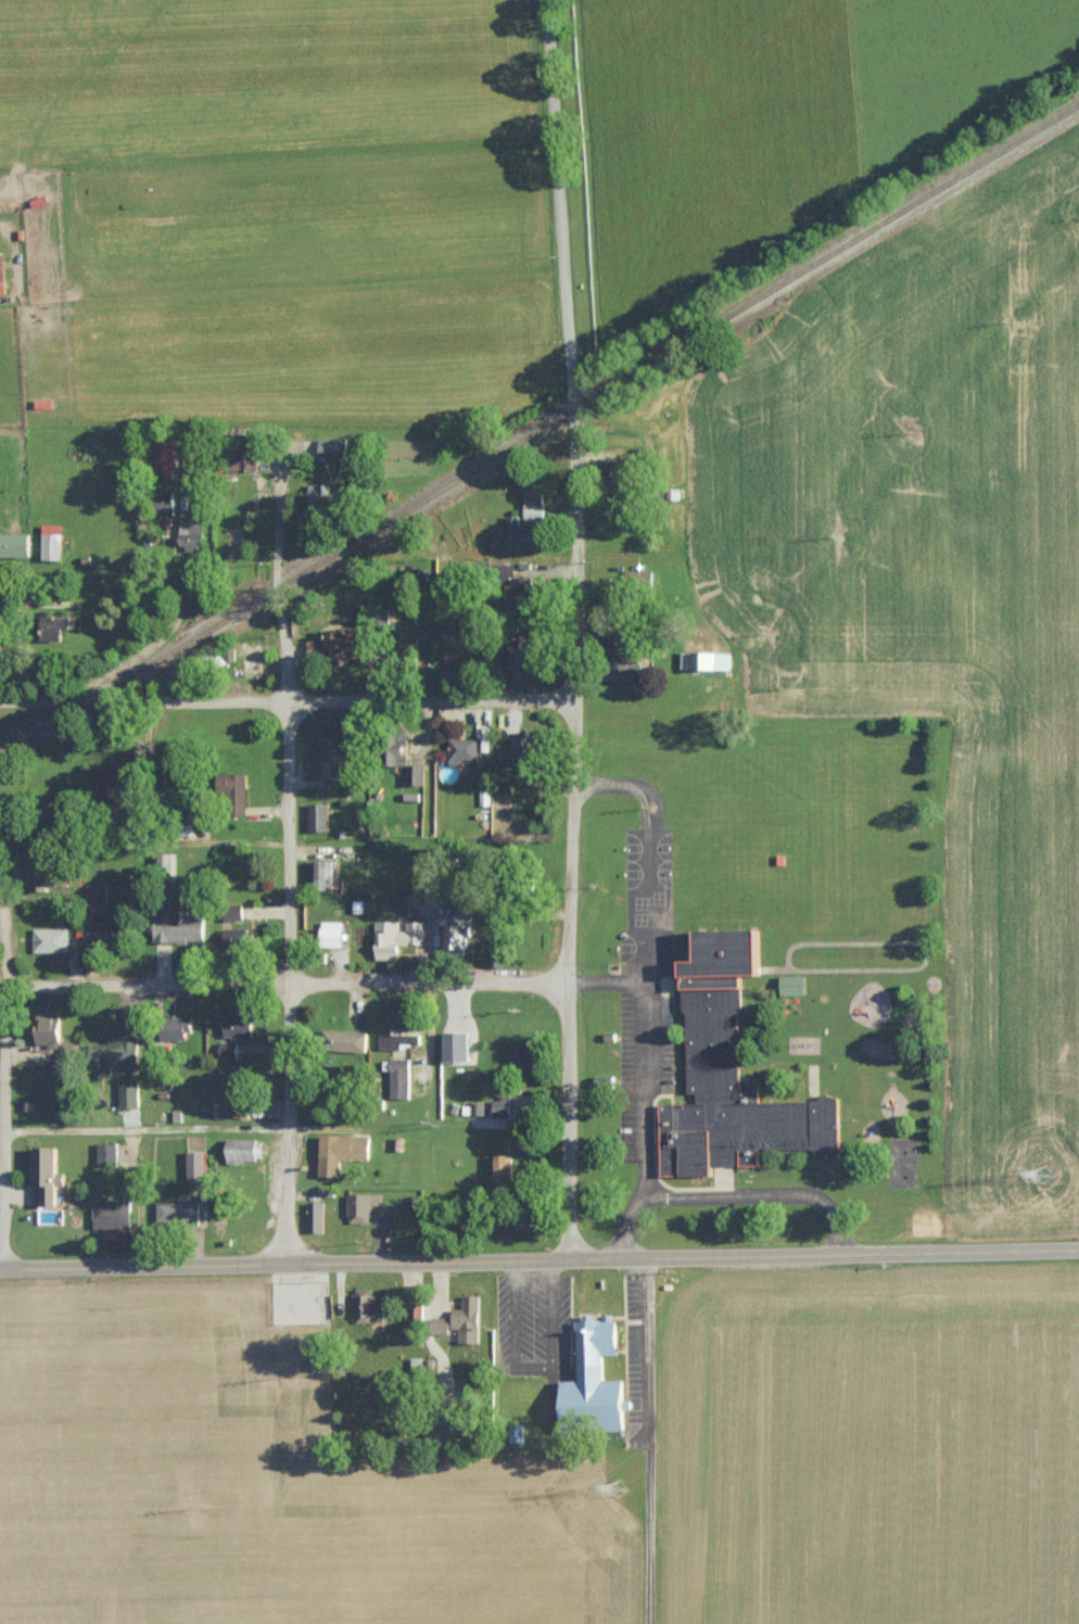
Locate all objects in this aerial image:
building: (2, 274)
road: (0, 307)
railway: (539, 427)
building: (333, 446)
building: (164, 457)
building: (247, 459)
building: (624, 471)
building: (321, 494)
building: (165, 503)
building: (534, 506)
building: (525, 533)
building: (192, 535)
building: (54, 542)
building: (15, 544)
building: (524, 589)
road: (662, 595)
building: (54, 627)
road: (572, 630)
road: (153, 643)
building: (338, 644)
building: (707, 660)
road: (285, 701)
building: (525, 748)
building: (338, 750)
building: (462, 750)
building: (481, 770)
building: (416, 774)
building: (112, 784)
building: (233, 785)
building: (319, 816)
road: (143, 840)
road: (287, 873)
building: (321, 873)
building: (49, 879)
building: (96, 893)
building: (104, 923)
building: (180, 928)
building: (457, 928)
building: (333, 934)
building: (238, 937)
building: (396, 937)
building: (50, 939)
road: (608, 982)
road: (284, 984)
building: (795, 985)
road: (645, 992)
building: (239, 1024)
building: (179, 1027)
building: (54, 1031)
building: (398, 1039)
building: (348, 1040)
building: (459, 1045)
building: (228, 1050)
road: (2, 1052)
building: (116, 1052)
building: (530, 1054)
building: (733, 1075)
building: (401, 1078)
building: (231, 1092)
building: (128, 1094)
building: (503, 1107)
road: (143, 1129)
building: (346, 1147)
building: (243, 1150)
building: (106, 1154)
power tower: (1041, 1164)
building: (196, 1165)
building: (502, 1167)
building: (49, 1176)
road: (763, 1195)
building: (361, 1206)
building: (112, 1214)
building: (178, 1214)
building: (28, 1216)
building: (316, 1217)
road: (823, 1255)
road: (283, 1265)
building: (369, 1306)
building: (469, 1319)
road: (531, 1370)
building: (597, 1382)
road: (649, 1441)
power tower: (618, 1485)

